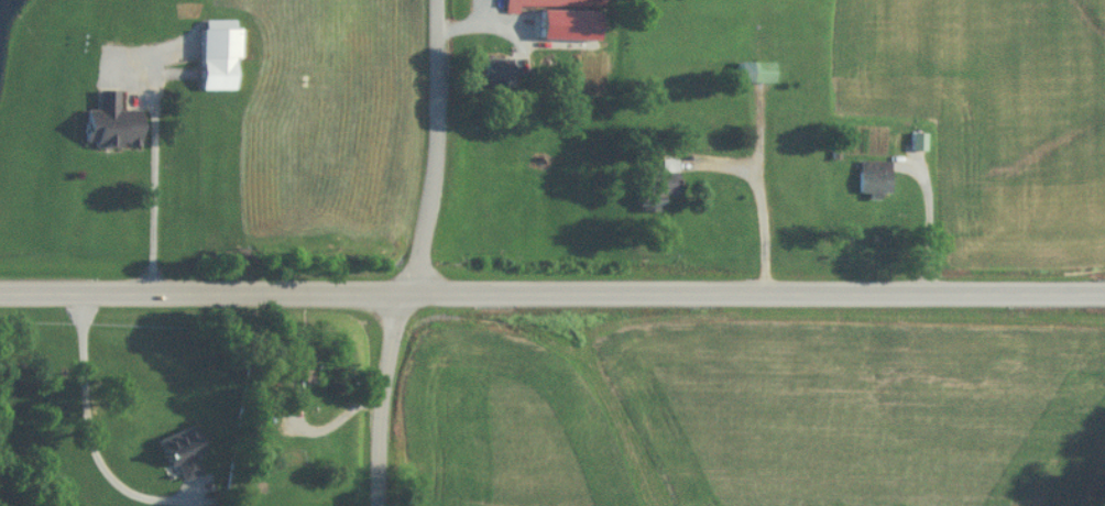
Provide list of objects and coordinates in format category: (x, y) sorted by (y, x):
building: (554, 4)
building: (216, 61)
building: (108, 127)
building: (871, 179)
building: (656, 187)
road: (761, 199)
road: (155, 204)
road: (929, 218)
road: (418, 254)
road: (551, 294)
building: (296, 366)
road: (85, 430)
road: (373, 496)

